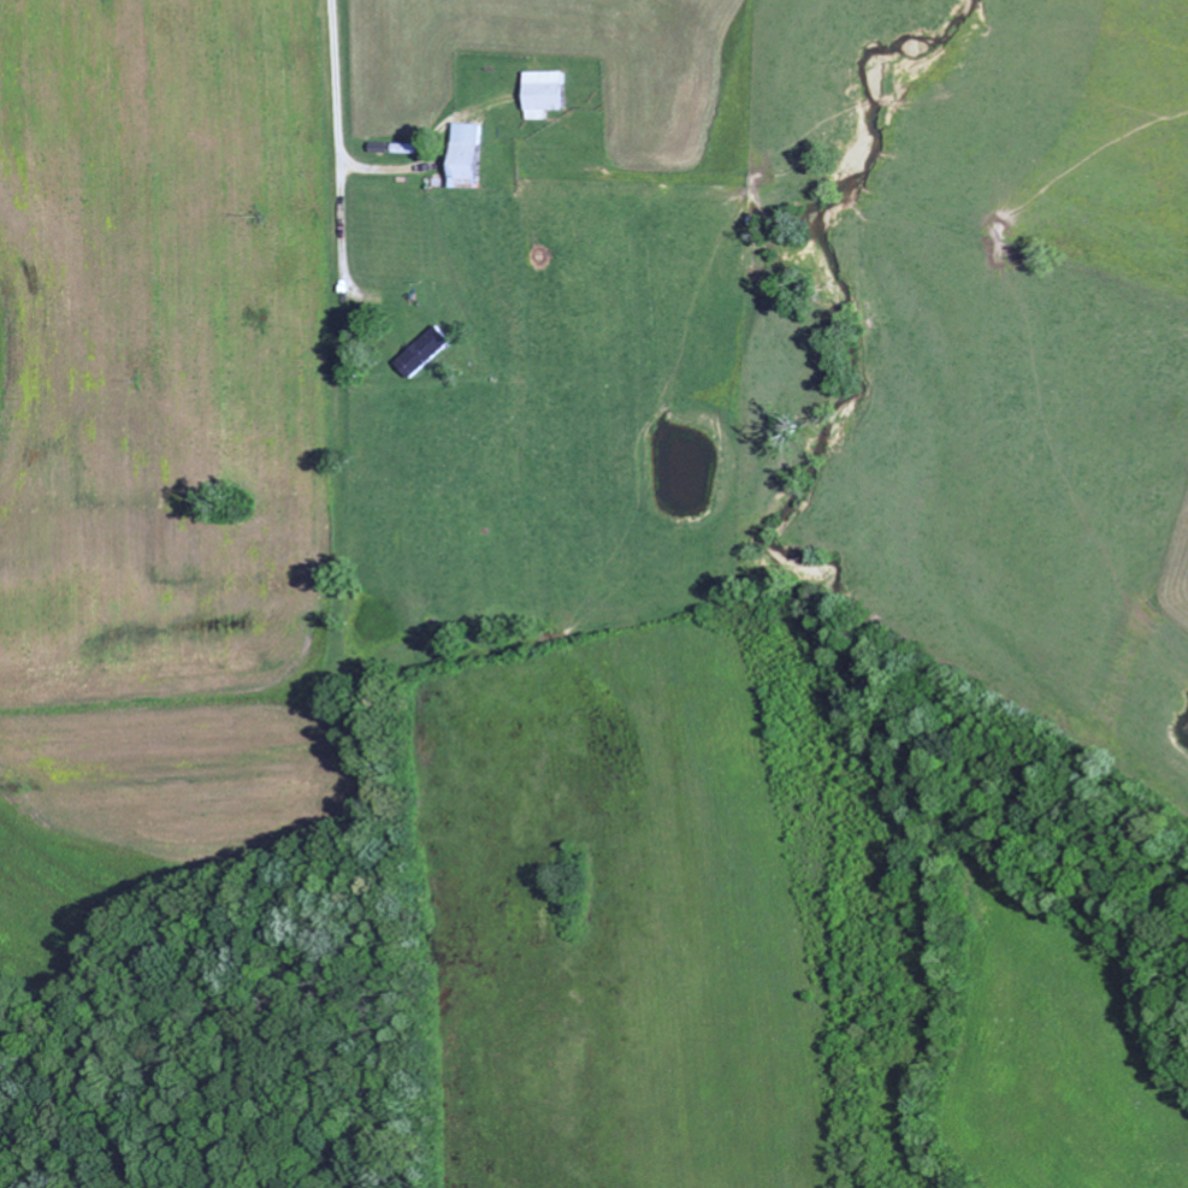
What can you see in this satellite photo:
building: (551, 93)
building: (473, 155)
building: (428, 350)

